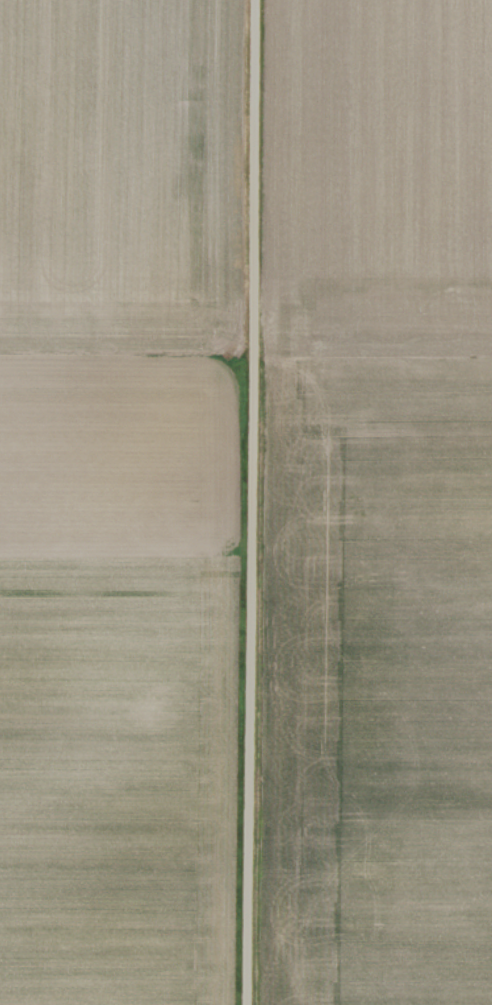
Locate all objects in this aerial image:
road: (254, 502)

